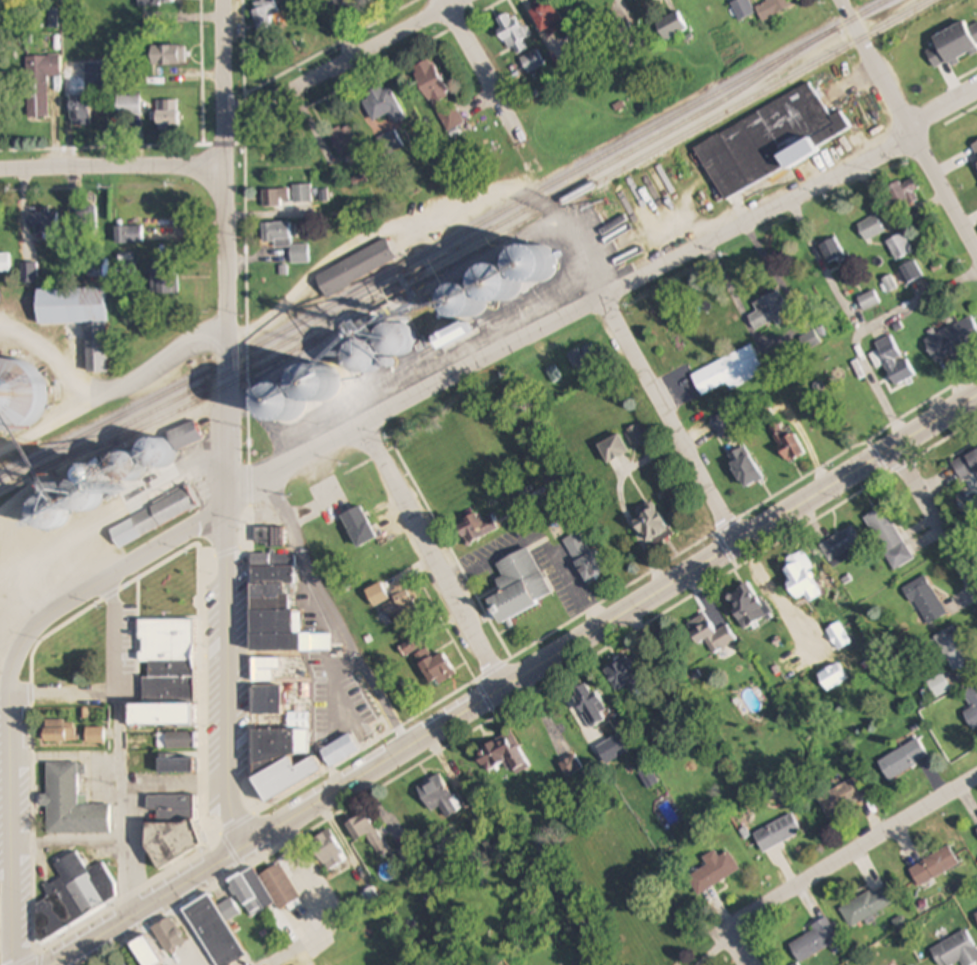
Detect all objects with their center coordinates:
building: (155, 2)
building: (773, 8)
building: (1, 9)
building: (742, 9)
building: (264, 15)
building: (546, 15)
building: (671, 26)
building: (512, 33)
building: (953, 44)
building: (170, 55)
road: (341, 63)
road: (481, 70)
building: (430, 82)
building: (40, 84)
building: (128, 106)
building: (383, 107)
building: (80, 111)
building: (167, 115)
building: (450, 119)
road: (904, 123)
building: (344, 141)
building: (771, 142)
building: (390, 144)
building: (974, 151)
road: (112, 166)
building: (301, 194)
building: (904, 194)
building: (273, 198)
building: (84, 222)
building: (45, 223)
building: (871, 229)
building: (128, 235)
building: (285, 241)
railway: (445, 243)
building: (900, 246)
building: (831, 250)
railway: (469, 253)
road: (675, 260)
building: (5, 264)
railway: (428, 264)
building: (356, 266)
road: (824, 266)
building: (911, 272)
building: (29, 274)
building: (163, 282)
building: (869, 301)
building: (769, 311)
building: (79, 321)
building: (439, 325)
road: (865, 326)
building: (810, 341)
building: (953, 343)
building: (888, 351)
road: (635, 355)
building: (585, 360)
building: (729, 372)
road: (106, 392)
building: (15, 396)
road: (227, 423)
building: (636, 436)
building: (184, 437)
building: (788, 446)
building: (613, 449)
building: (431, 457)
building: (967, 467)
building: (744, 468)
road: (128, 497)
building: (448, 497)
building: (81, 508)
road: (934, 510)
building: (46, 516)
building: (154, 517)
building: (651, 524)
building: (358, 527)
building: (477, 528)
road: (169, 530)
building: (888, 538)
building: (841, 545)
building: (584, 556)
road: (435, 558)
building: (800, 582)
building: (519, 587)
building: (925, 601)
building: (401, 604)
building: (748, 607)
building: (277, 610)
road: (326, 618)
building: (166, 635)
building: (711, 636)
building: (953, 649)
building: (429, 662)
building: (800, 663)
building: (269, 669)
road: (516, 678)
building: (625, 678)
building: (833, 678)
road: (64, 693)
building: (266, 701)
building: (972, 708)
building: (161, 715)
building: (60, 732)
building: (95, 736)
building: (283, 740)
building: (177, 741)
road: (122, 743)
building: (704, 747)
building: (612, 750)
building: (340, 752)
building: (502, 757)
building: (903, 760)
building: (176, 765)
building: (571, 767)
building: (649, 777)
building: (284, 779)
building: (436, 796)
building: (847, 796)
building: (71, 804)
road: (8, 817)
building: (172, 829)
building: (976, 829)
building: (367, 834)
building: (777, 834)
building: (328, 851)
road: (856, 855)
building: (934, 867)
building: (713, 872)
building: (269, 889)
building: (73, 896)
road: (330, 905)
building: (869, 906)
building: (976, 914)
road: (186, 930)
building: (214, 932)
building: (168, 936)
building: (814, 942)
road: (745, 950)
building: (956, 951)
building: (146, 952)
building: (122, 963)

